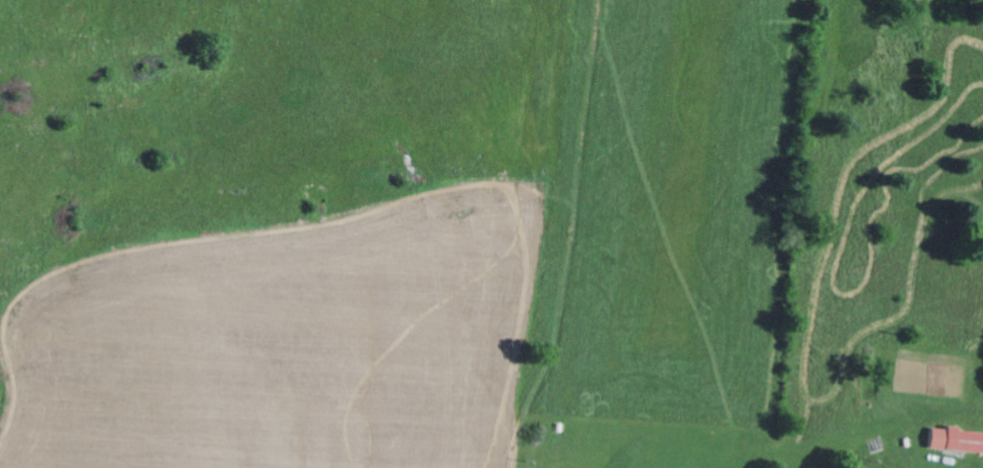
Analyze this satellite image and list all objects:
building: (953, 440)

